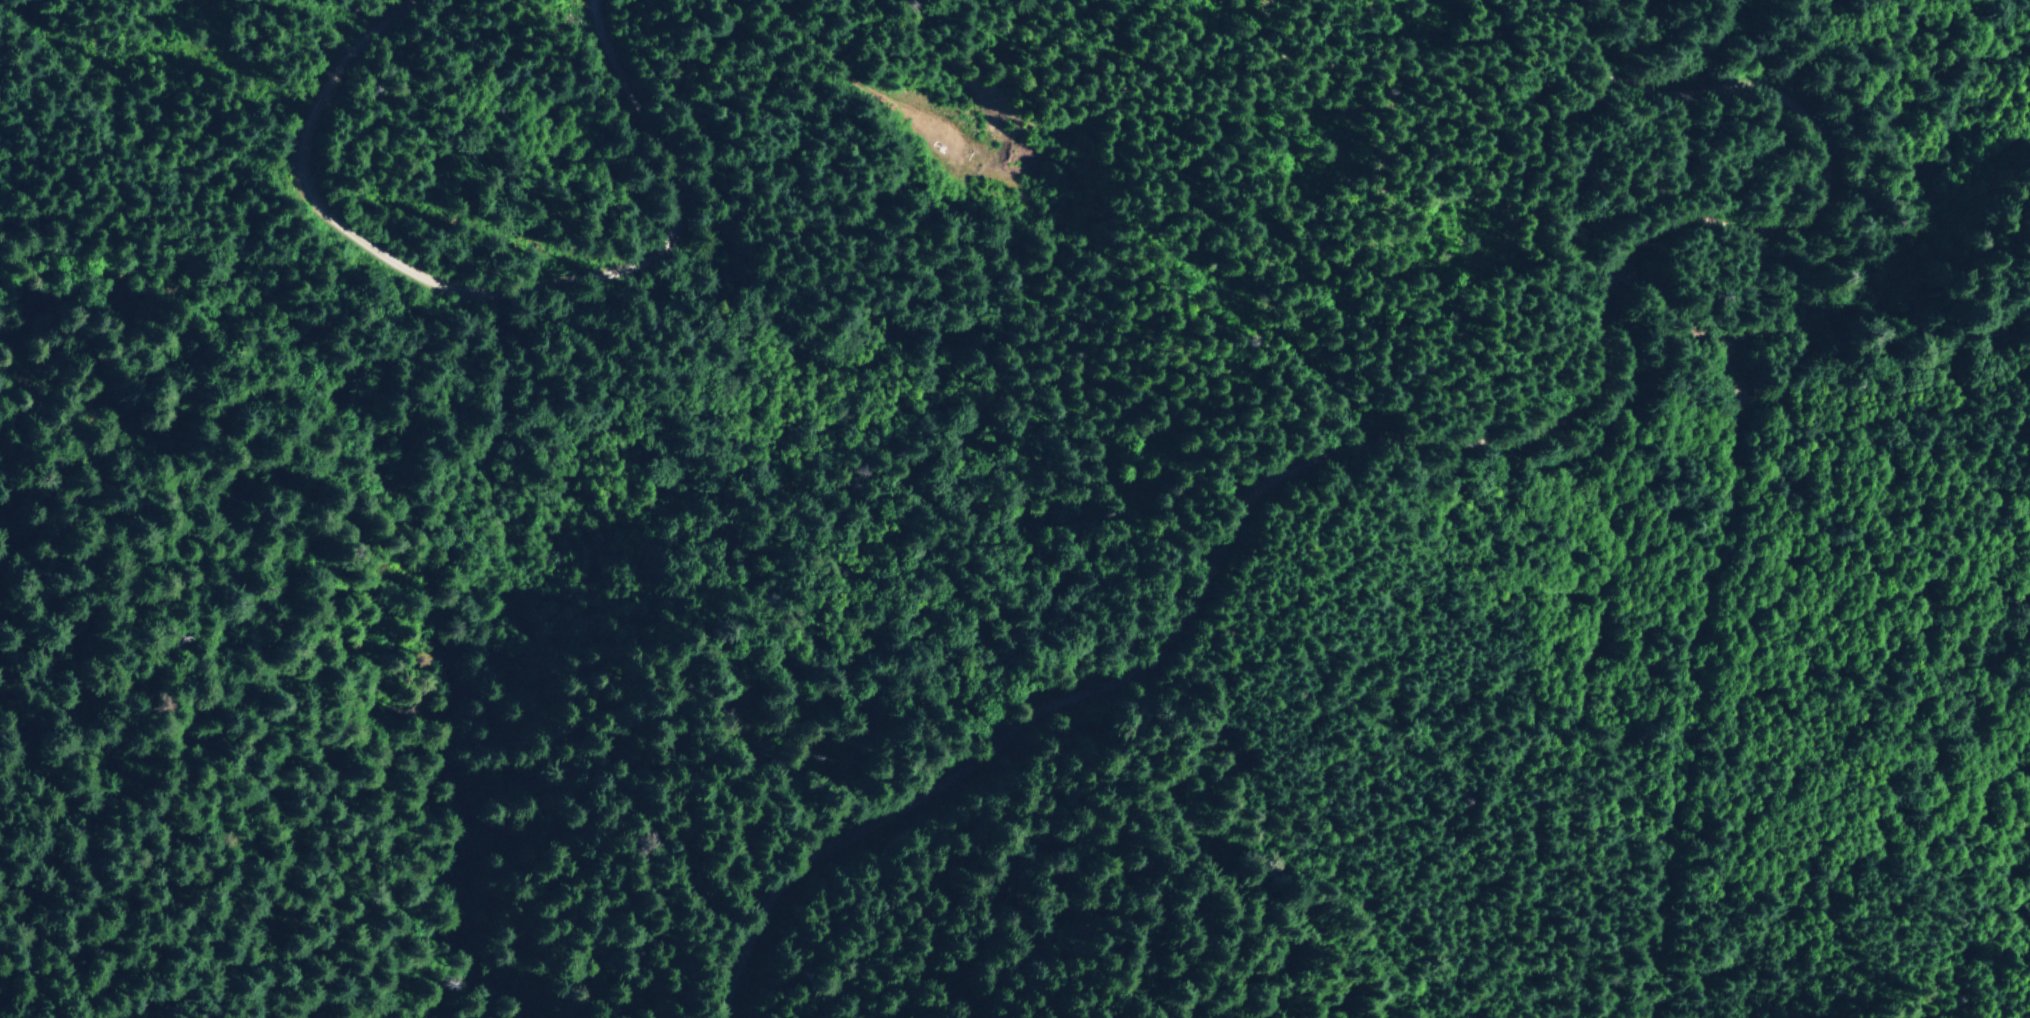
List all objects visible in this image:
road: (818, 42)
road: (1705, 49)
road: (523, 321)
road: (1869, 329)
road: (1894, 406)
road: (1432, 481)
road: (1929, 720)
road: (1660, 978)

